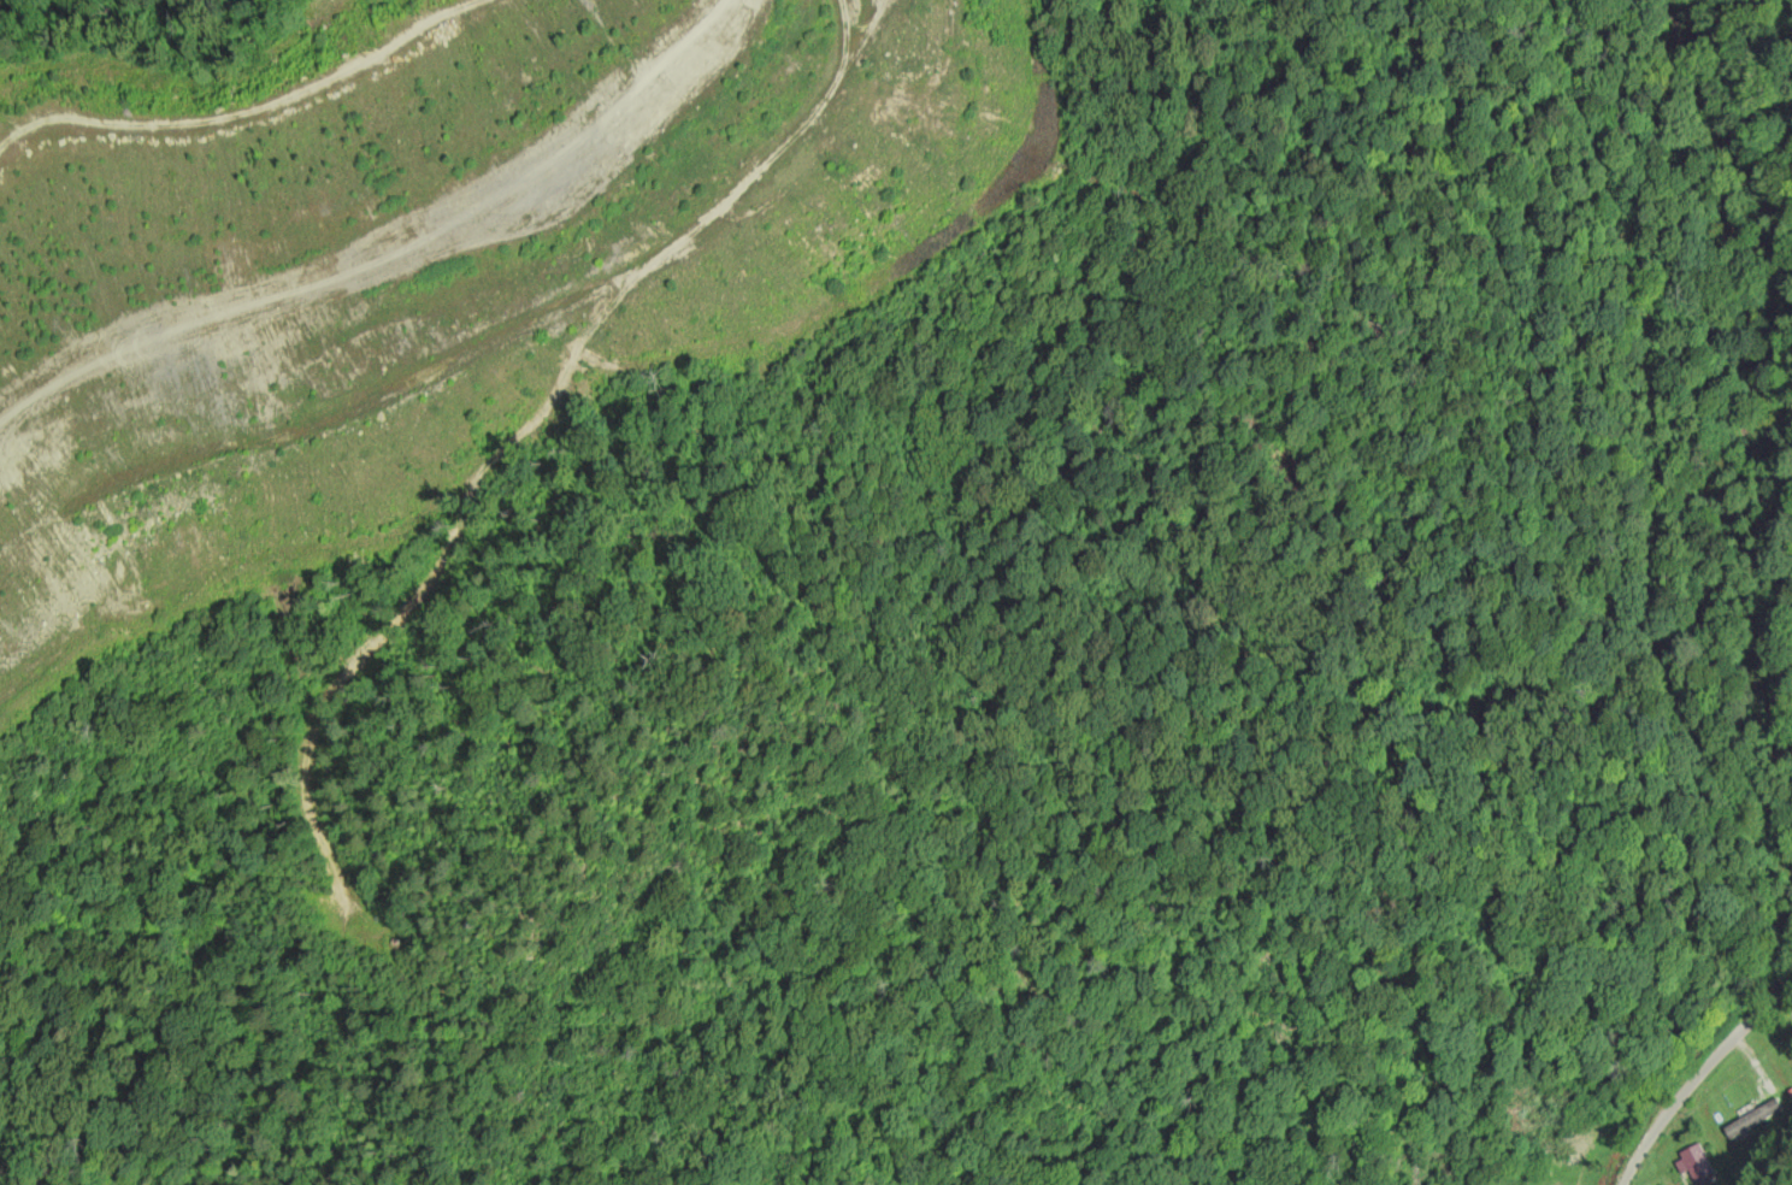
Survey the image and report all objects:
road: (1708, 1096)
building: (1751, 1118)
building: (1694, 1162)

